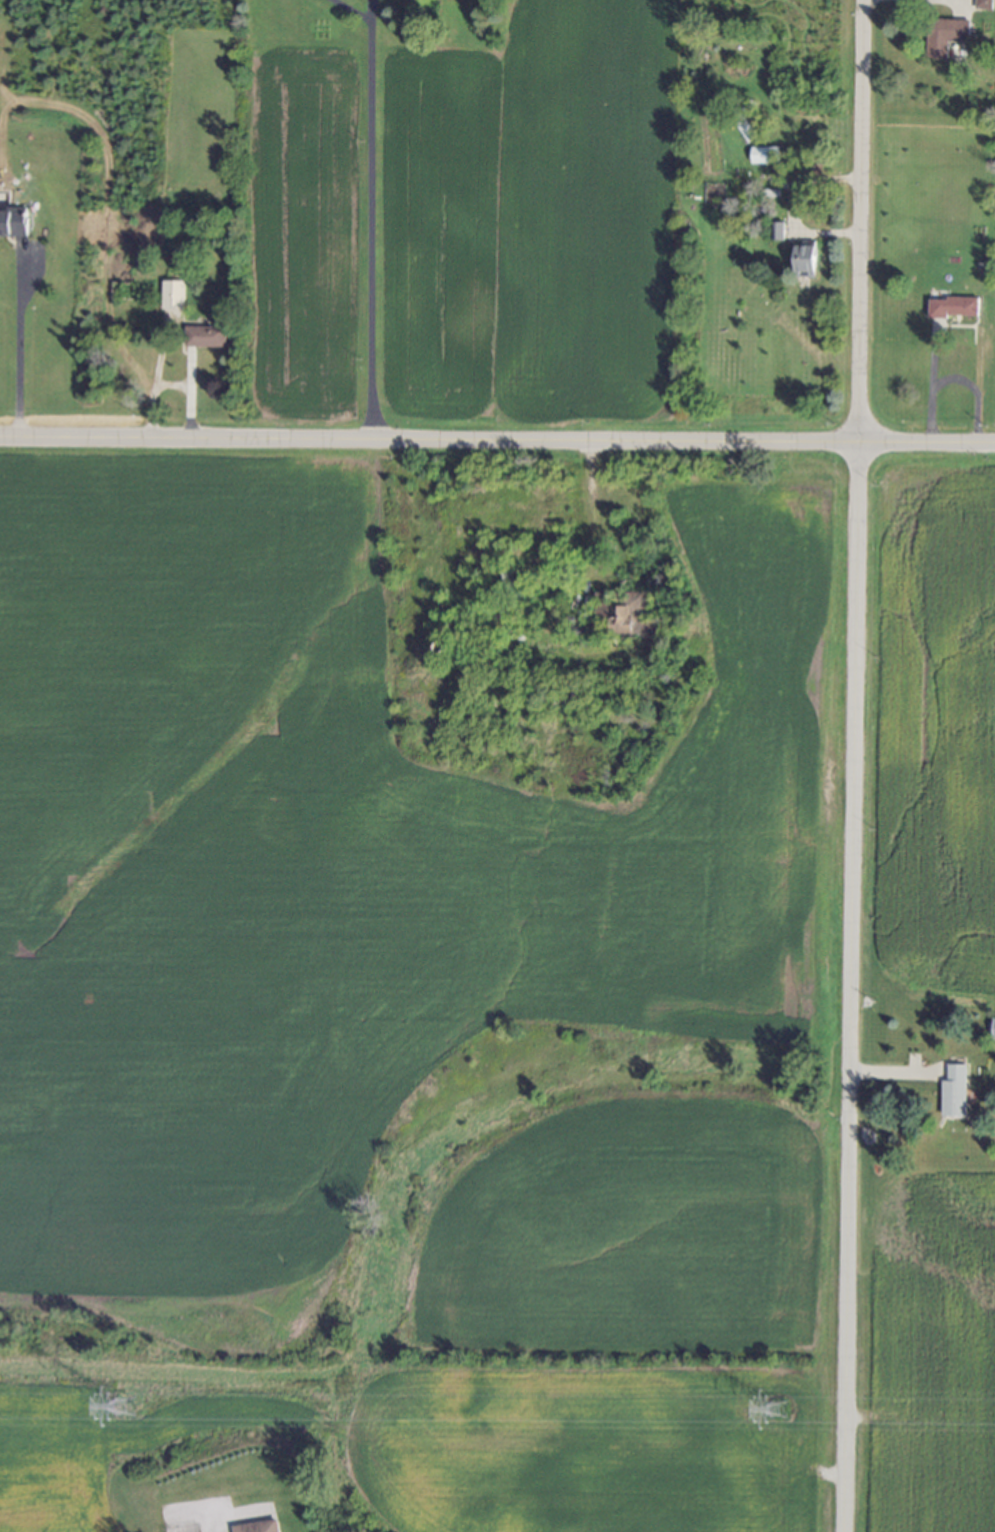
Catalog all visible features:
road: (943, 2)
building: (984, 4)
building: (946, 35)
building: (764, 155)
road: (792, 211)
road: (371, 219)
building: (13, 222)
crop: (460, 224)
building: (777, 231)
building: (806, 260)
building: (172, 295)
building: (954, 307)
building: (204, 336)
road: (18, 343)
road: (497, 439)
building: (627, 615)
crop: (934, 727)
road: (853, 765)
crop: (399, 1029)
building: (993, 1029)
building: (954, 1091)
crop: (931, 1355)
power tower: (127, 1406)
power tower: (780, 1412)
building: (260, 1527)

